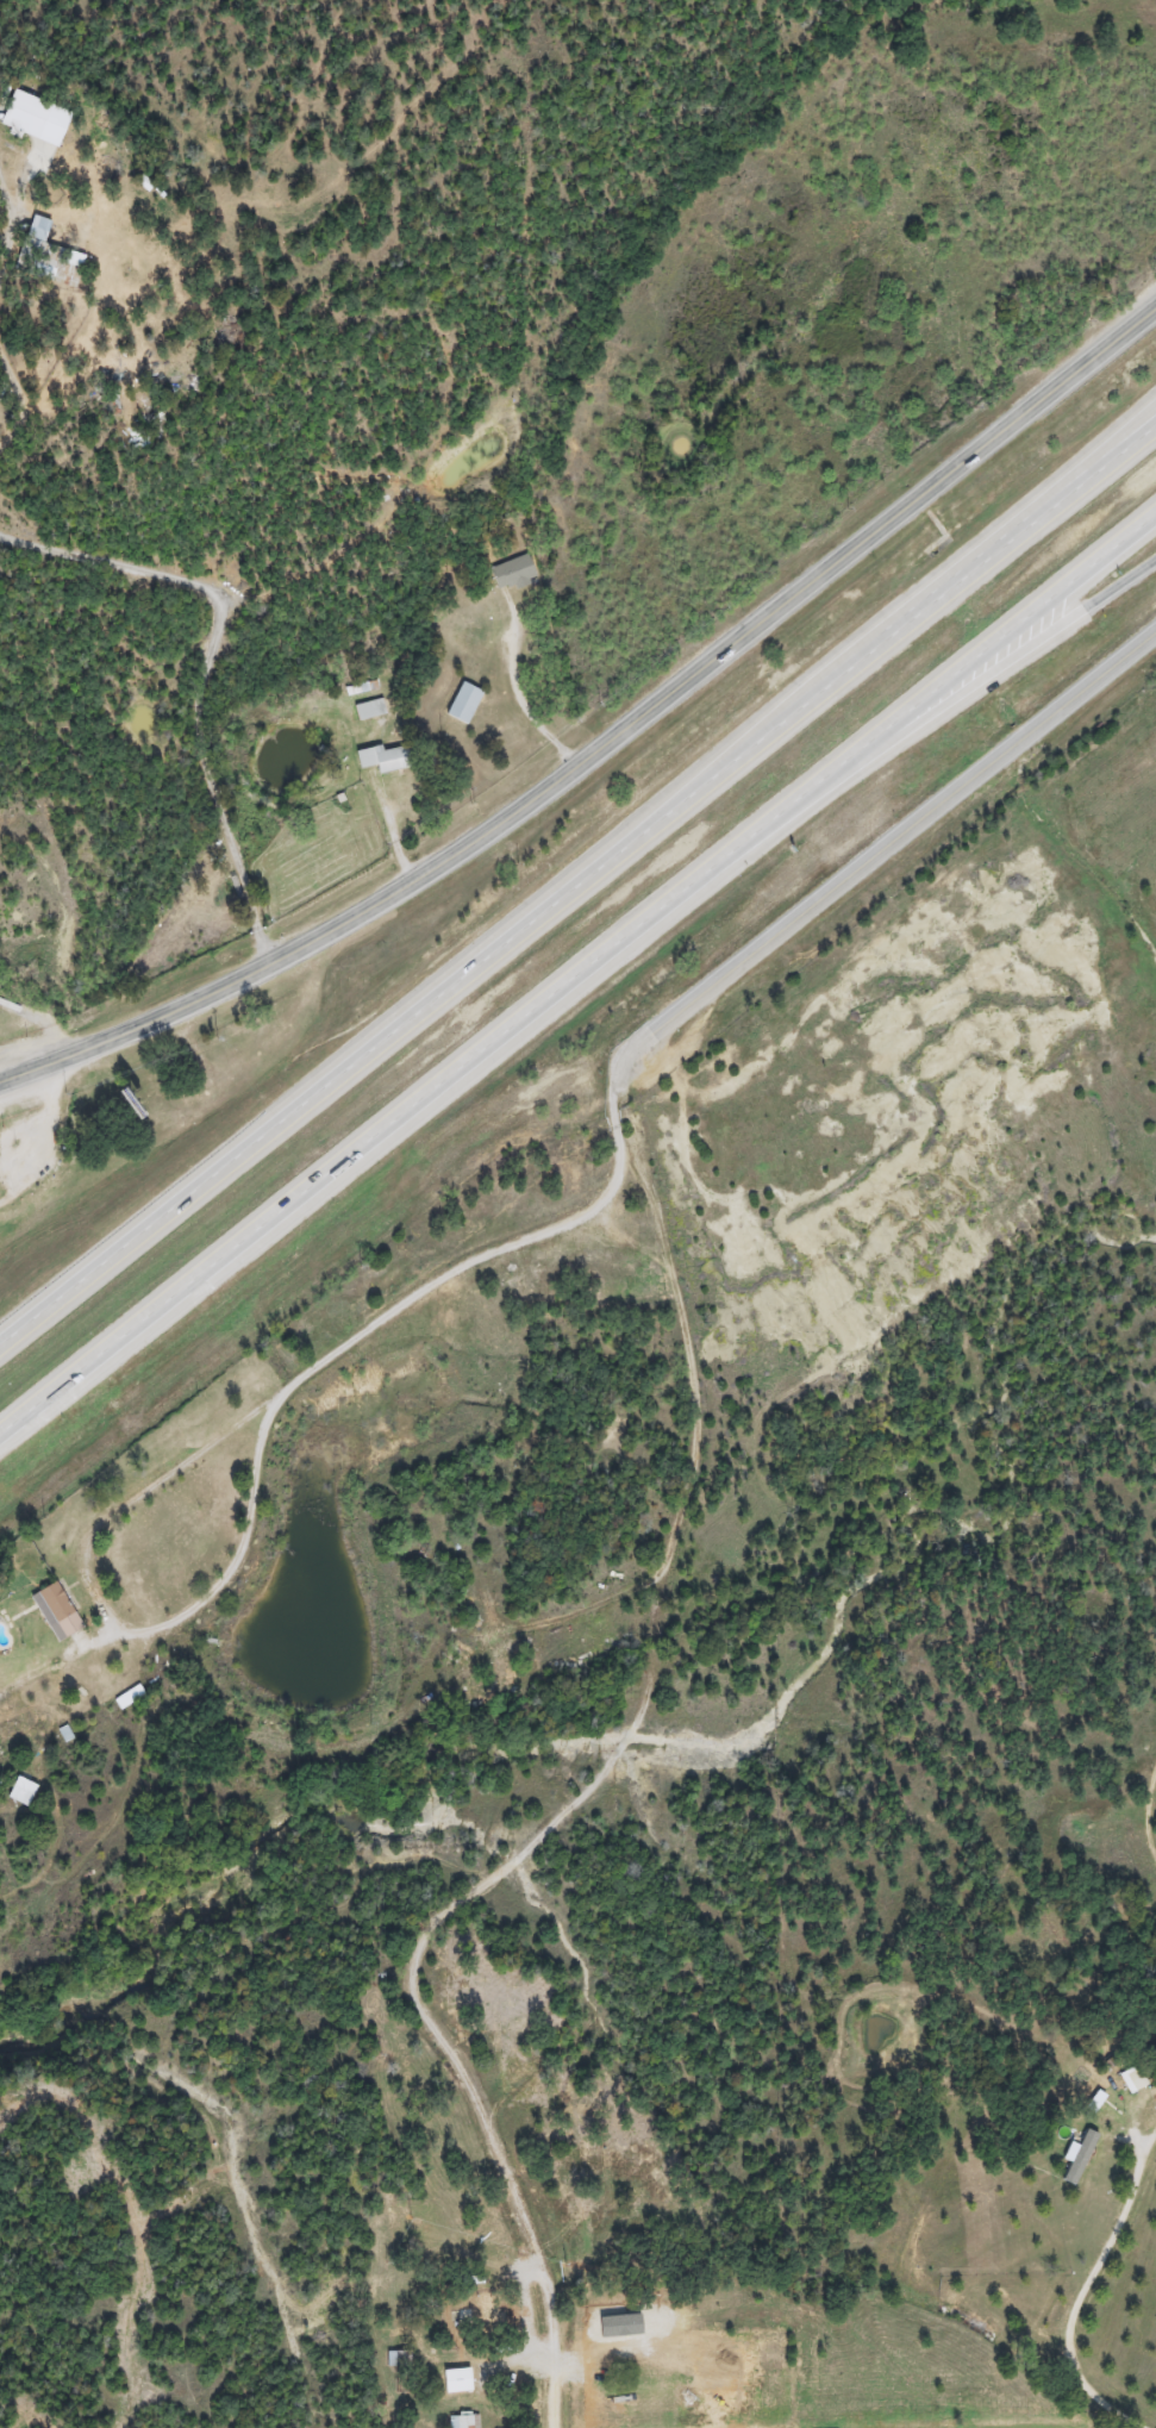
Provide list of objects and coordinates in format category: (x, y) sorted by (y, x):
building: (26, 106)
road: (4, 208)
building: (33, 230)
building: (71, 260)
building: (55, 275)
road: (13, 336)
building: (508, 574)
road: (905, 614)
road: (189, 676)
road: (512, 688)
building: (460, 703)
road: (937, 711)
road: (605, 730)
building: (379, 759)
road: (857, 855)
road: (577, 884)
road: (579, 973)
road: (38, 1023)
road: (610, 1165)
road: (236, 1538)
building: (51, 1611)
road: (599, 1771)
building: (18, 1792)
building: (1083, 2086)
road: (1074, 2295)
road: (521, 2310)
building: (479, 2321)
road: (546, 2352)
building: (399, 2360)
building: (463, 2422)

